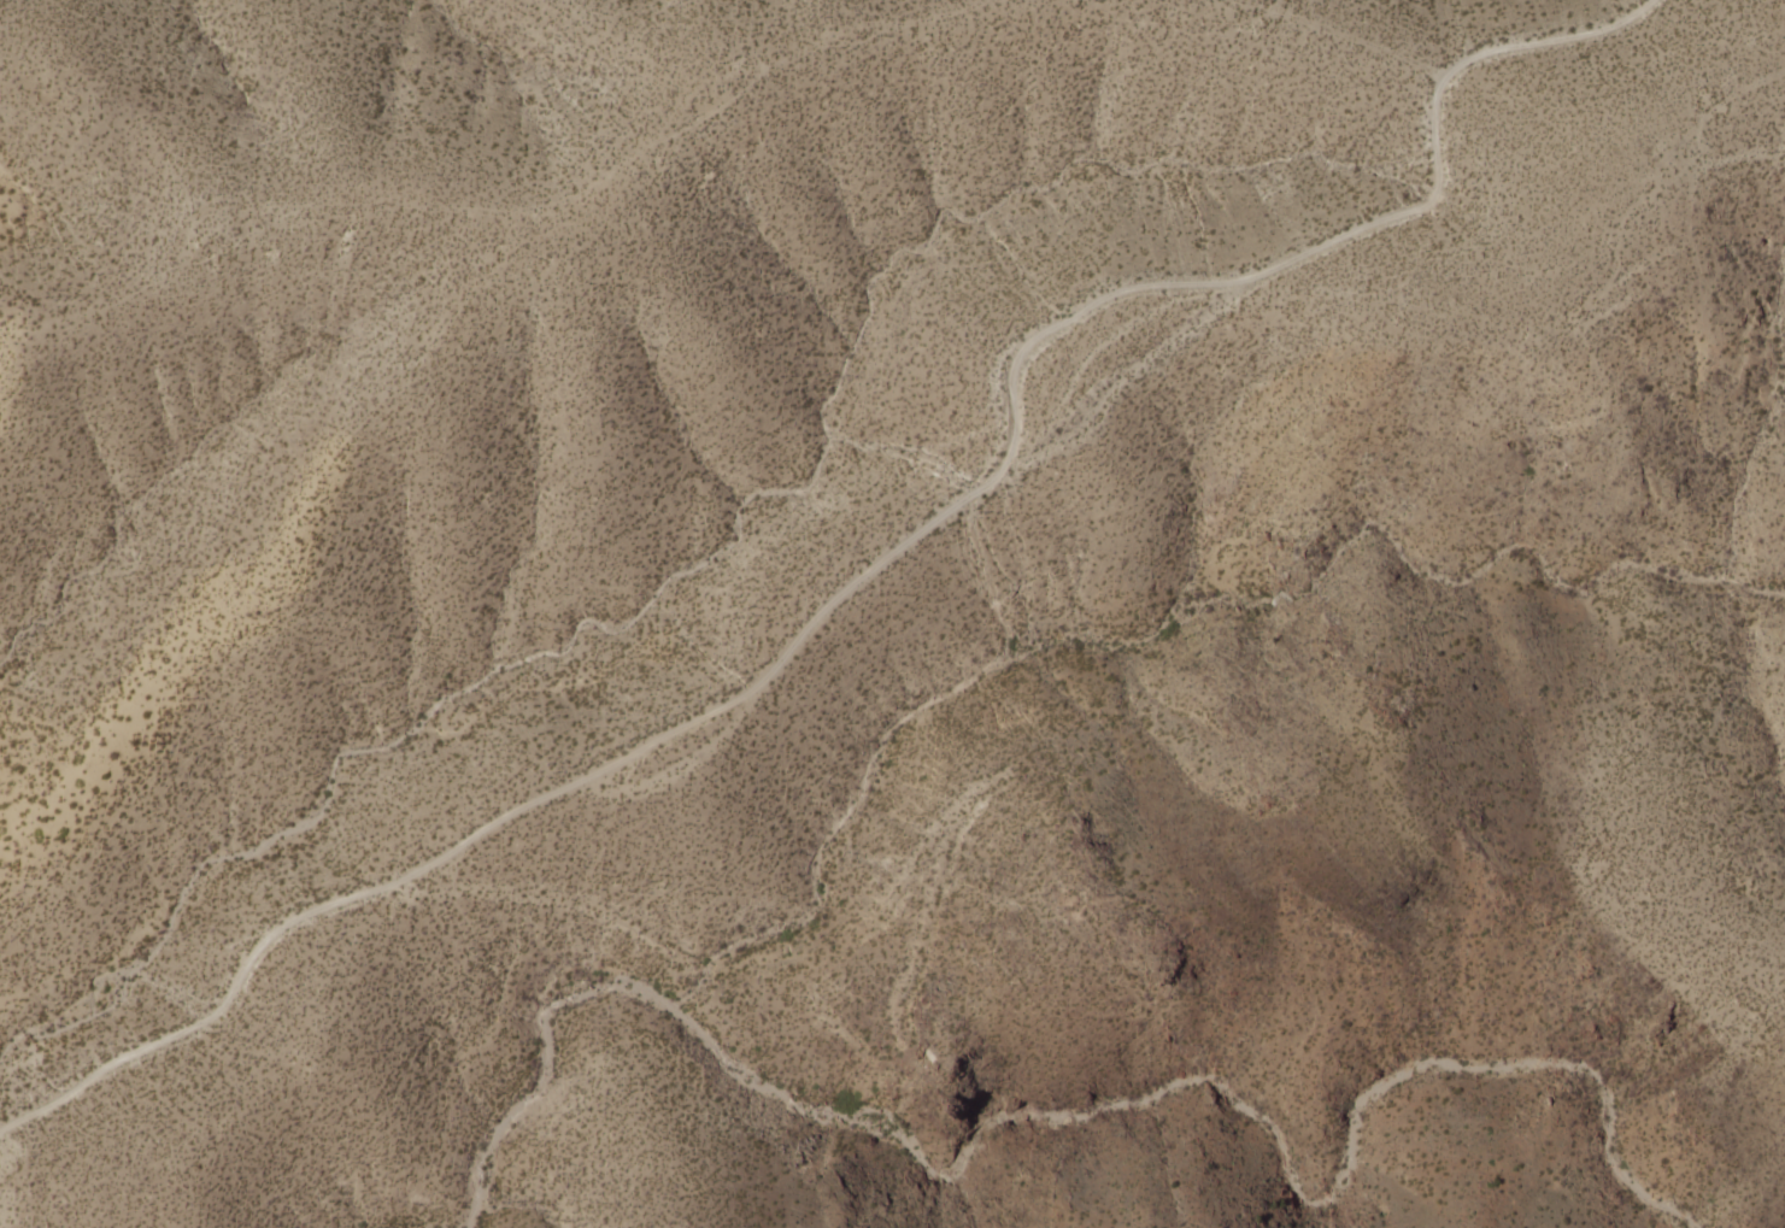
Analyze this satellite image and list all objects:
road: (905, 544)
road: (25, 1117)

